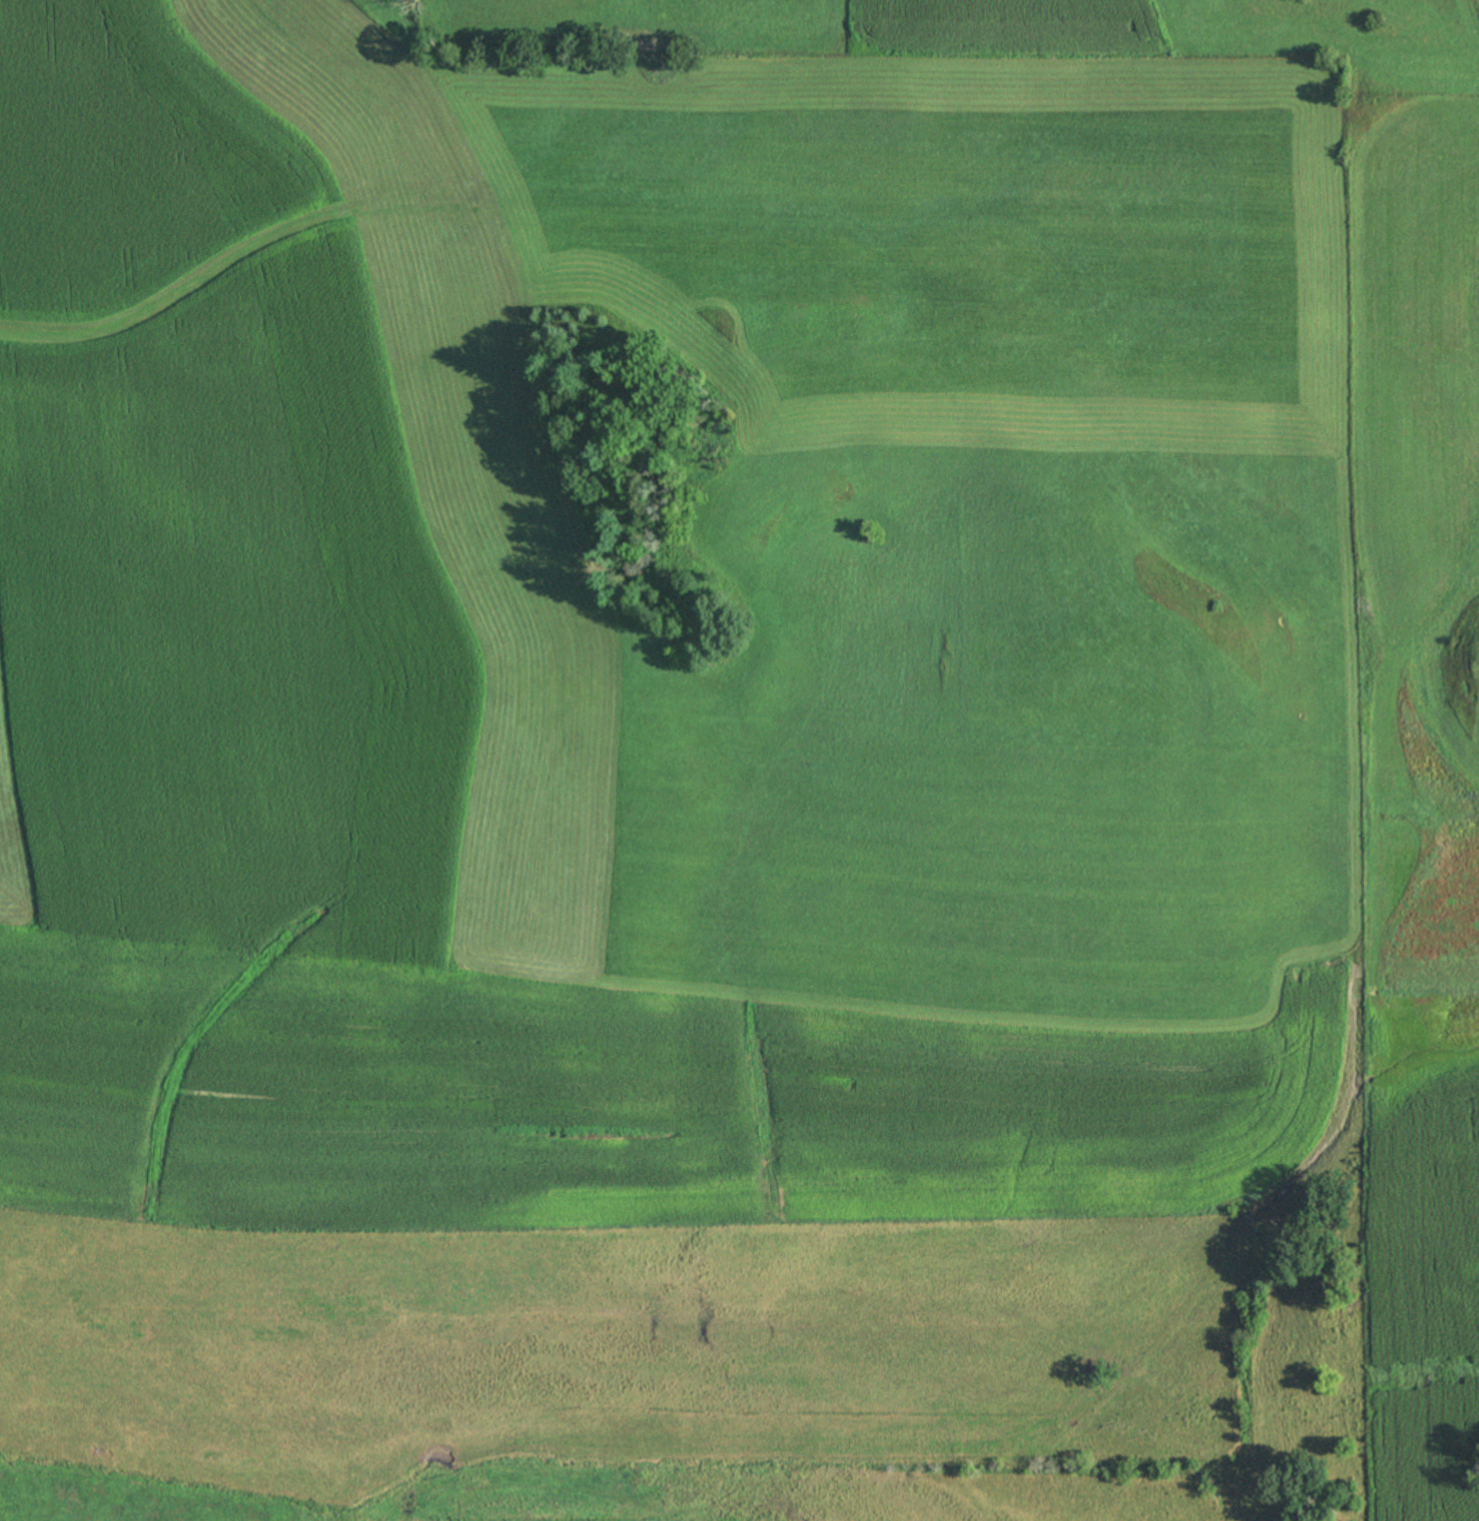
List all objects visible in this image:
road: (47, 339)

